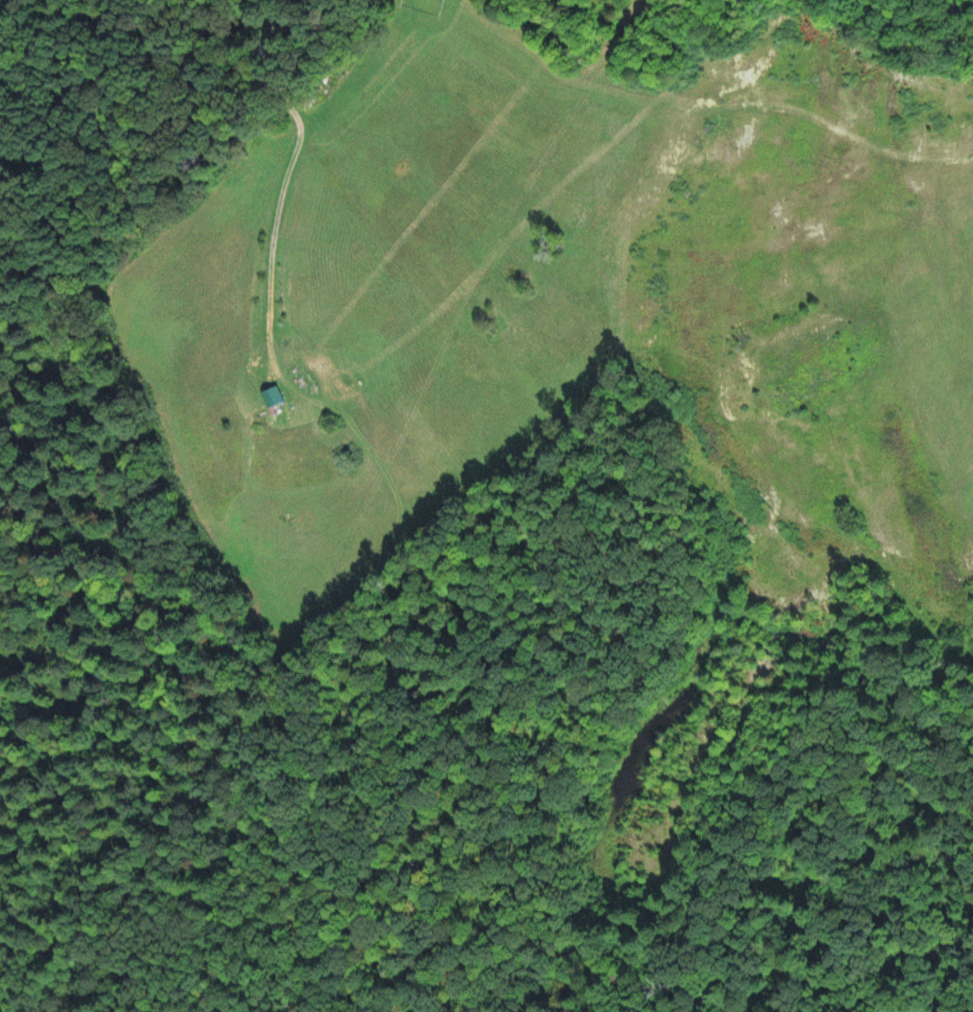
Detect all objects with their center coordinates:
building: (273, 396)

